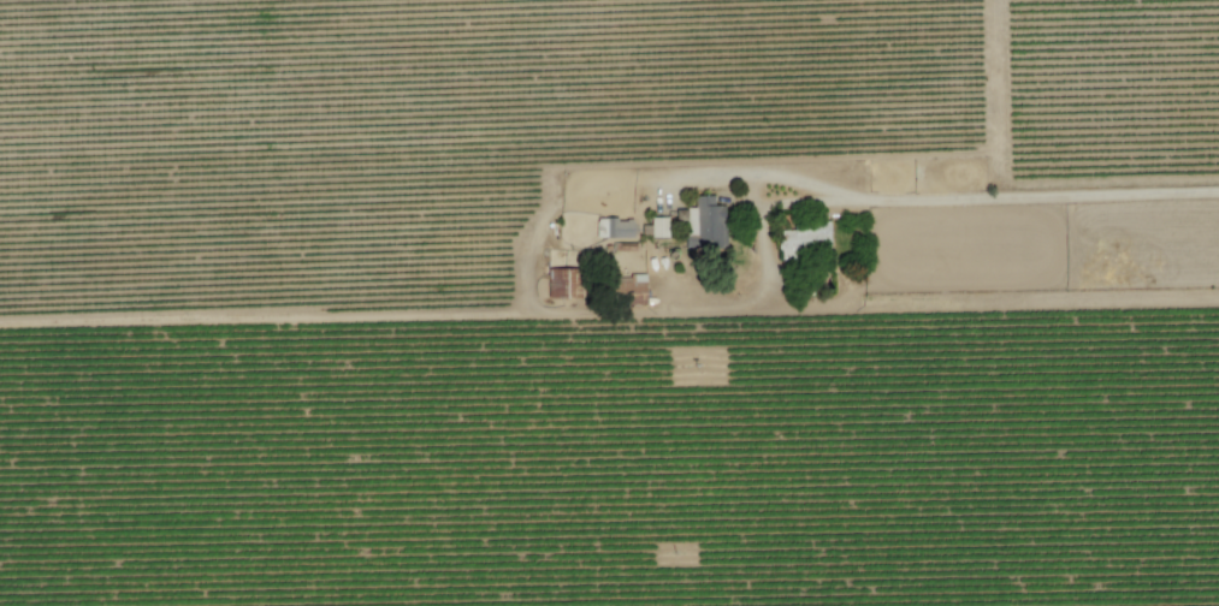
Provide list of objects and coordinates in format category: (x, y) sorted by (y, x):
road: (939, 200)
building: (703, 222)
building: (658, 227)
building: (617, 228)
building: (803, 240)
building: (562, 284)

